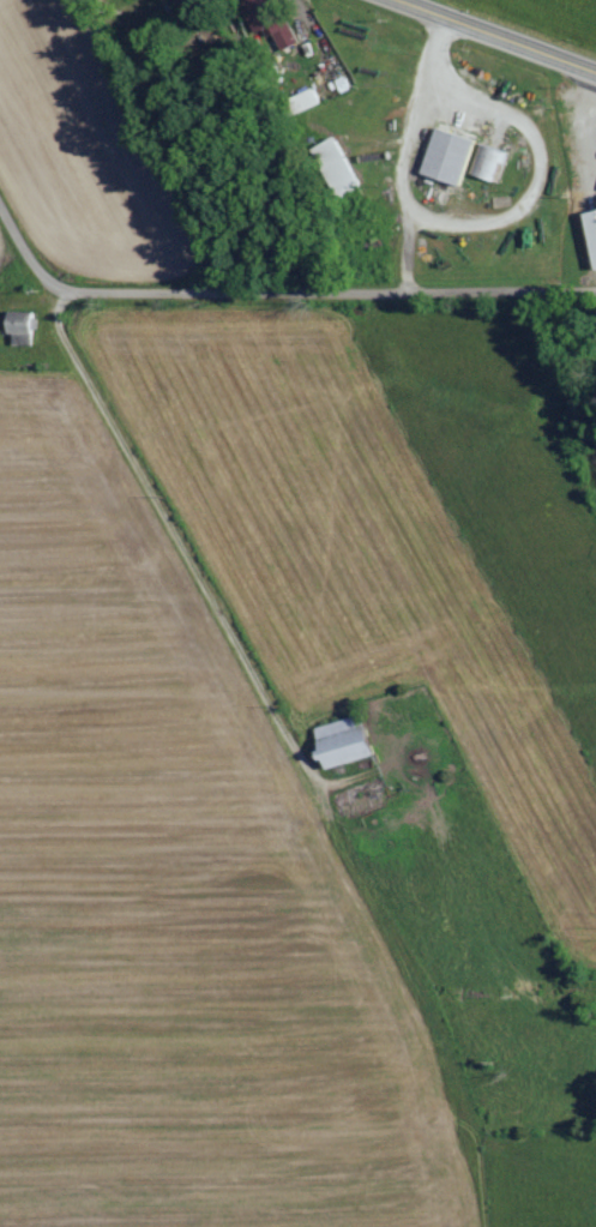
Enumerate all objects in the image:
road: (500, 35)
building: (454, 156)
building: (490, 160)
building: (595, 216)
road: (26, 247)
road: (325, 290)
building: (29, 327)
road: (176, 533)
building: (338, 740)

